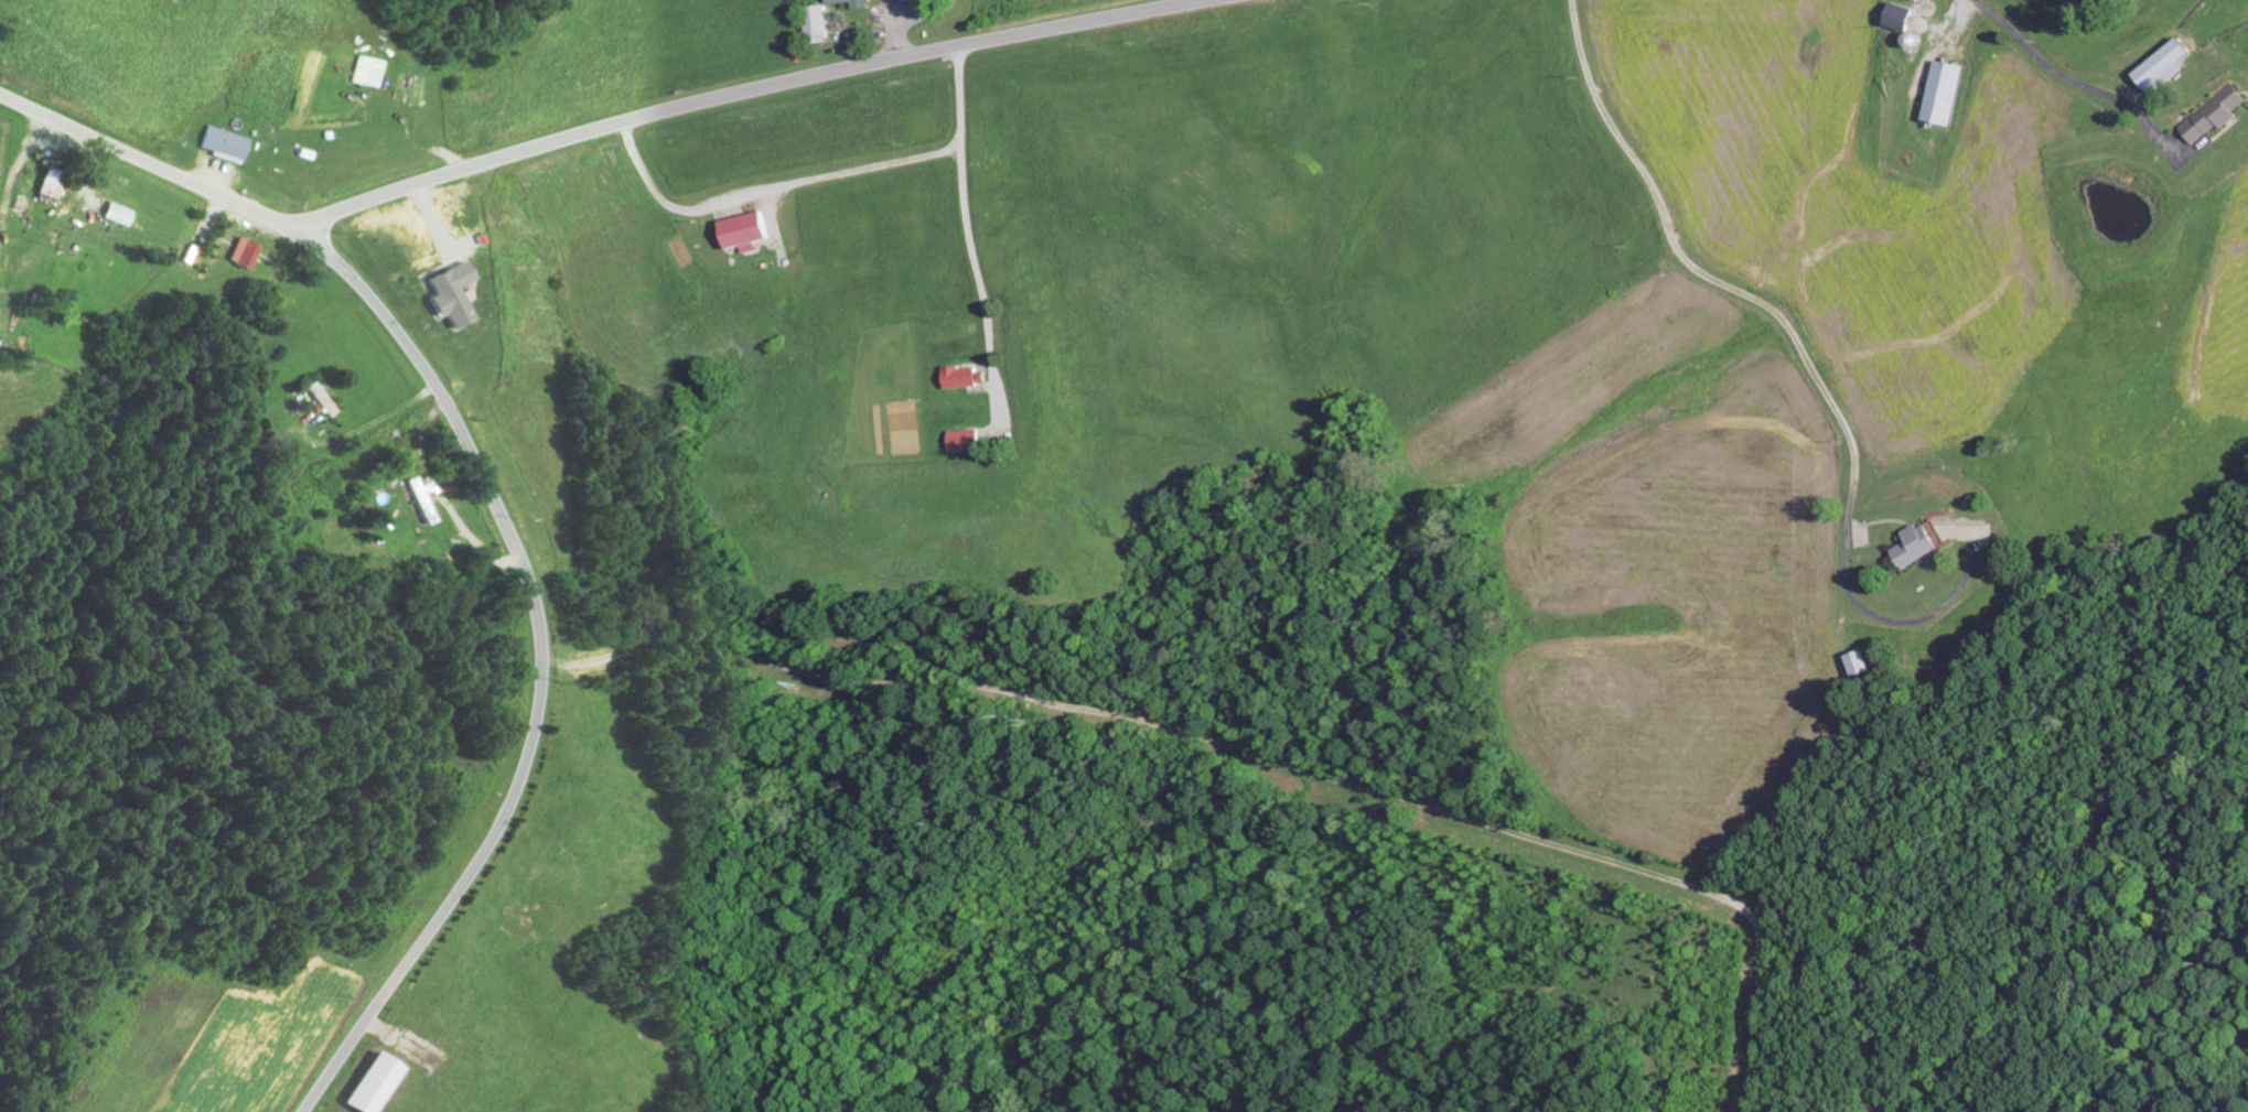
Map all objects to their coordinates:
building: (860, 2)
building: (1895, 15)
building: (821, 23)
building: (2159, 66)
building: (367, 71)
building: (1938, 91)
building: (2209, 115)
road: (589, 128)
building: (226, 141)
building: (55, 182)
building: (120, 214)
building: (751, 230)
building: (246, 251)
building: (453, 293)
road: (1799, 347)
building: (971, 376)
building: (322, 399)
building: (970, 439)
building: (421, 500)
building: (1911, 546)
road: (536, 667)
building: (376, 1083)

